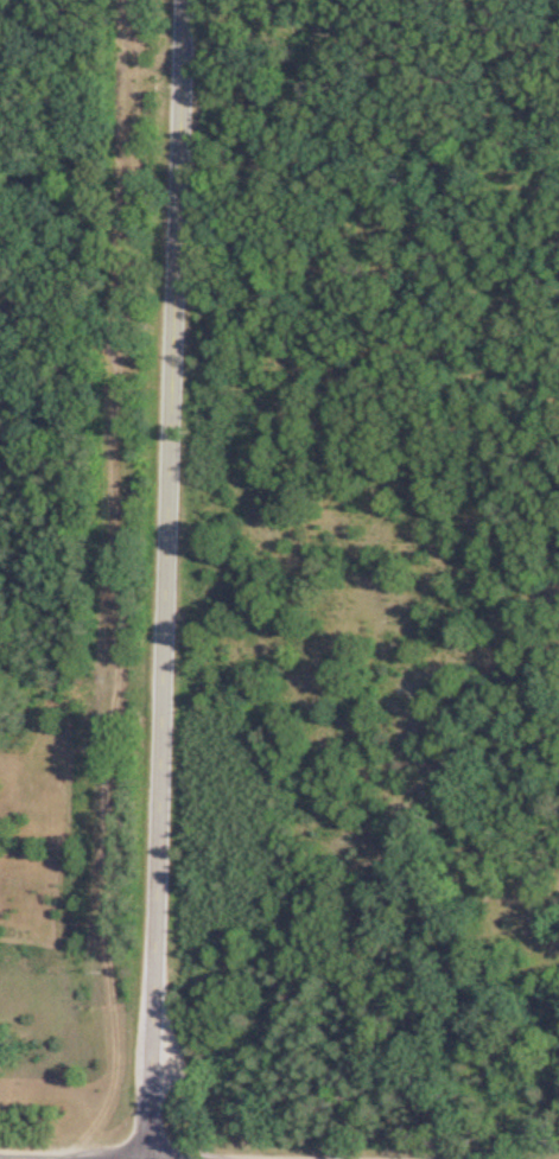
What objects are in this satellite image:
road: (153, 579)

